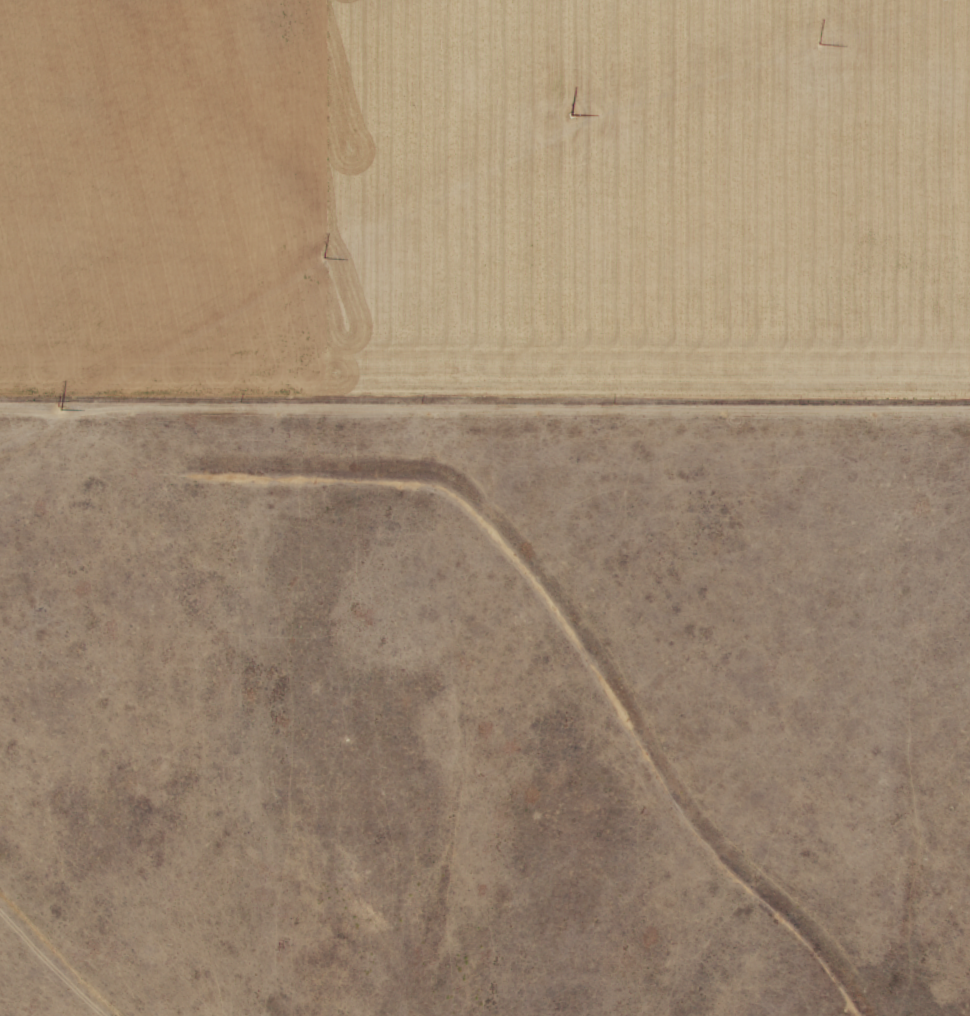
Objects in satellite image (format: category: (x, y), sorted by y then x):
power tower: (857, 31)
power tower: (571, 110)
power tower: (323, 250)
power tower: (59, 404)

